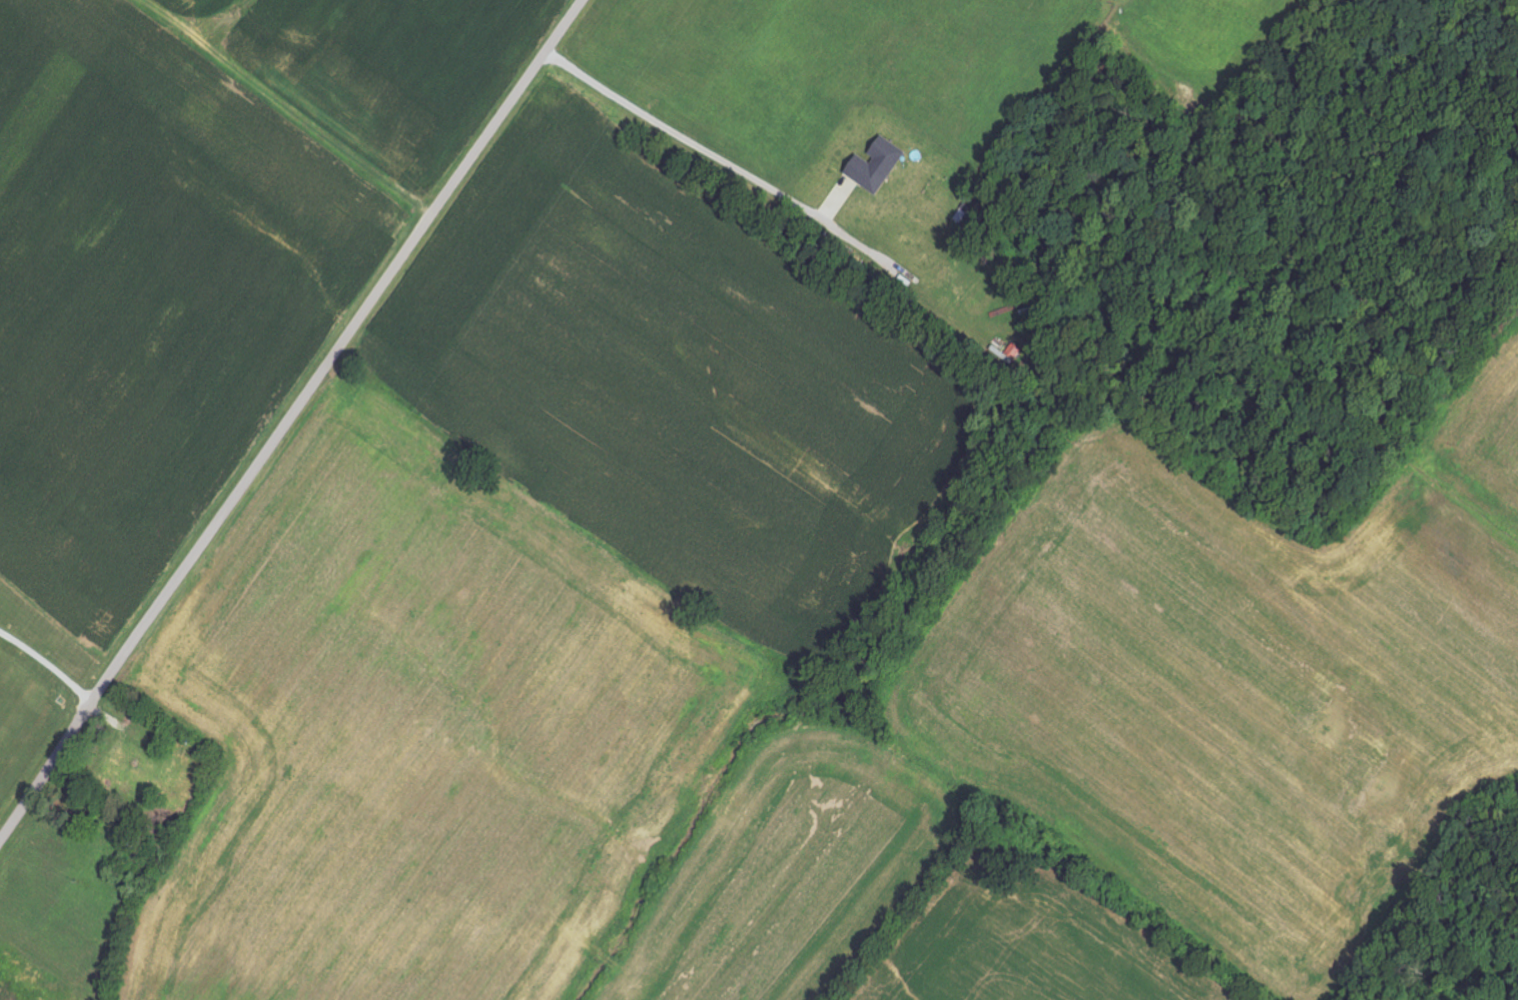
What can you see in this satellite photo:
road: (695, 145)
building: (878, 165)
road: (289, 421)
road: (49, 663)

